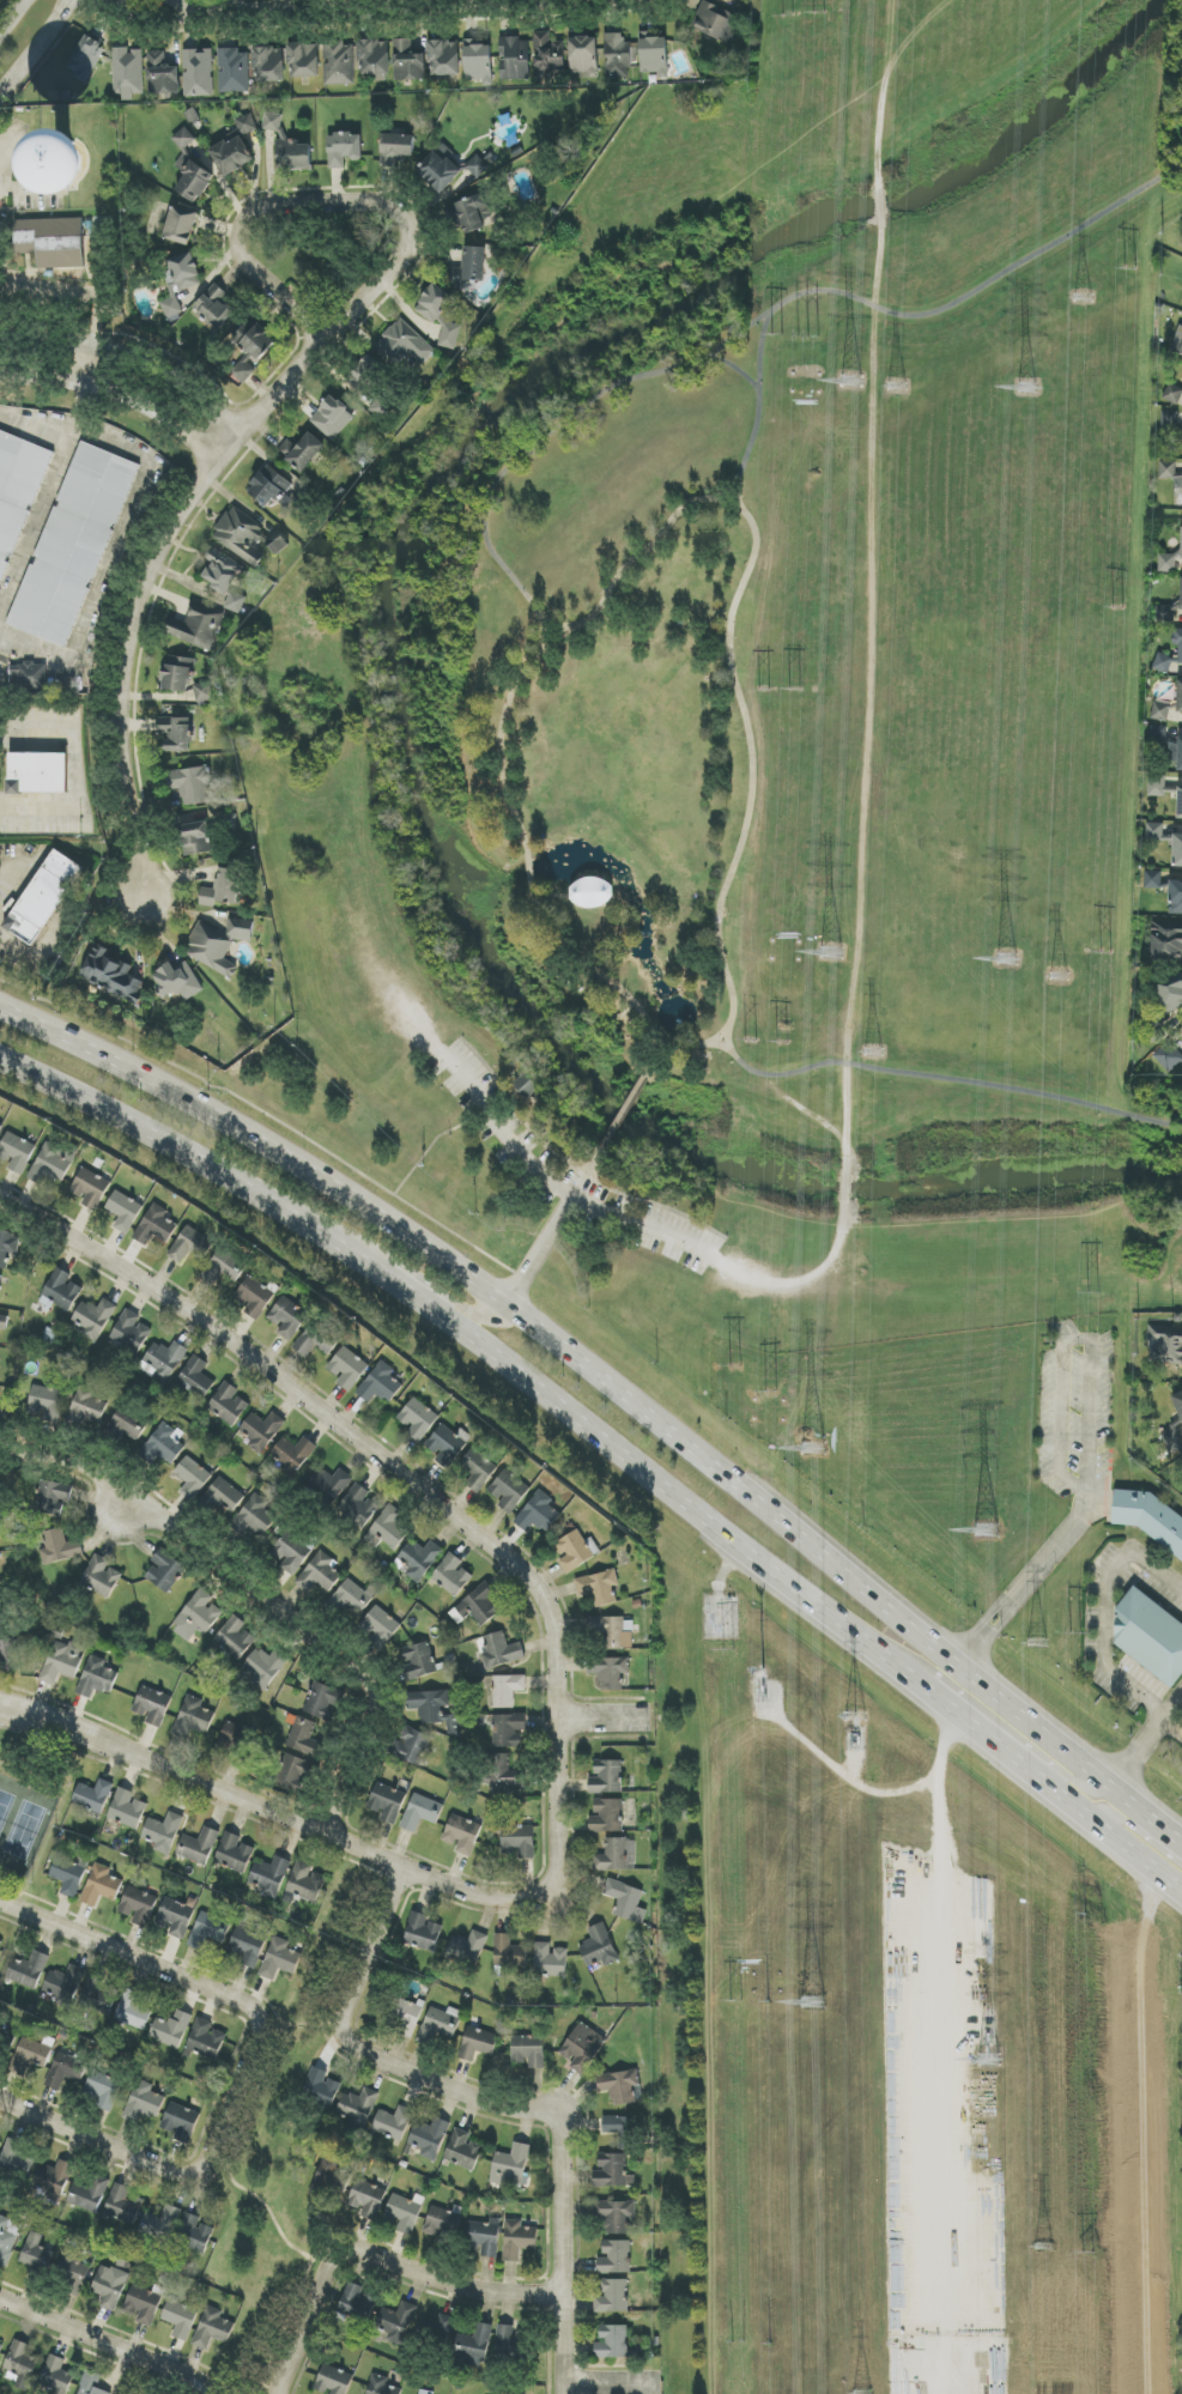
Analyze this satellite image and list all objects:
road: (504, 0)
road: (213, 6)
road: (326, 8)
power tower: (819, 11)
power tower: (789, 13)
road: (16, 19)
building: (716, 22)
road: (43, 55)
building: (619, 55)
building: (654, 55)
building: (548, 56)
building: (444, 57)
building: (583, 57)
building: (86, 59)
building: (375, 59)
building: (514, 59)
building: (304, 60)
building: (407, 61)
building: (478, 61)
building: (339, 62)
building: (268, 65)
building: (234, 71)
building: (127, 73)
building: (198, 73)
building: (162, 74)
building: (273, 123)
building: (344, 149)
building: (396, 149)
park: (808, 150)
building: (232, 156)
building: (293, 156)
building: (477, 166)
building: (192, 170)
building: (440, 171)
road: (11, 189)
road: (246, 208)
building: (474, 213)
building: (0, 223)
building: (181, 225)
building: (50, 242)
building: (469, 267)
power tower: (1131, 271)
building: (181, 281)
road: (87, 298)
power tower: (1081, 298)
building: (214, 308)
building: (441, 314)
road: (751, 322)
power tower: (808, 334)
power tower: (776, 337)
building: (405, 344)
building: (1178, 345)
building: (250, 353)
road: (737, 372)
building: (364, 375)
road: (122, 377)
power tower: (851, 383)
power tower: (897, 389)
power tower: (1028, 389)
building: (1174, 394)
building: (332, 418)
building: (1169, 419)
building: (302, 451)
building: (1168, 469)
road: (47, 484)
building: (271, 487)
building: (17, 491)
road: (162, 515)
building: (240, 535)
building: (278, 544)
building: (73, 545)
building: (1181, 546)
road: (643, 552)
road: (110, 553)
building: (1169, 562)
building: (224, 577)
building: (1181, 595)
power tower: (1117, 612)
building: (1164, 613)
building: (199, 626)
road: (569, 628)
building: (1180, 650)
road: (729, 673)
building: (178, 674)
building: (28, 675)
power tower: (795, 686)
power tower: (765, 689)
building: (204, 692)
building: (1180, 696)
building: (1162, 711)
building: (177, 733)
building: (1158, 734)
road: (499, 741)
building: (1180, 754)
building: (38, 772)
road: (78, 774)
park: (756, 781)
building: (194, 784)
building: (1180, 804)
building: (1154, 830)
building: (196, 838)
building: (1177, 850)
road: (528, 872)
building: (1153, 880)
building: (223, 889)
building: (592, 892)
building: (44, 897)
building: (1175, 897)
building: (1166, 939)
building: (220, 944)
power tower: (1105, 952)
power tower: (831, 953)
power tower: (1007, 959)
building: (111, 975)
power tower: (1059, 975)
building: (177, 981)
building: (1170, 993)
building: (1153, 1028)
power tower: (748, 1041)
power tower: (783, 1042)
road: (728, 1044)
power tower: (873, 1054)
building: (1168, 1056)
road: (653, 1060)
road: (818, 1065)
building: (526, 1086)
road: (620, 1114)
road: (843, 1116)
building: (0, 1125)
building: (16, 1152)
road: (192, 1158)
building: (50, 1165)
road: (586, 1170)
road: (562, 1183)
building: (91, 1189)
road: (842, 1189)
building: (123, 1212)
building: (156, 1225)
building: (192, 1246)
building: (7, 1247)
road: (538, 1247)
building: (223, 1268)
road: (395, 1280)
building: (0, 1283)
road: (798, 1283)
building: (61, 1290)
power tower: (1095, 1292)
building: (254, 1296)
road: (460, 1307)
building: (93, 1317)
building: (287, 1317)
building: (4, 1322)
building: (131, 1332)
building: (314, 1343)
building: (1165, 1345)
building: (163, 1360)
building: (347, 1368)
power tower: (735, 1368)
building: (195, 1377)
building: (381, 1383)
road: (613, 1389)
power tower: (771, 1390)
building: (46, 1402)
building: (1177, 1402)
building: (228, 1404)
building: (87, 1407)
building: (418, 1419)
building: (127, 1424)
building: (261, 1430)
road: (1092, 1430)
building: (1171, 1440)
building: (448, 1444)
building: (165, 1446)
power tower: (813, 1449)
building: (292, 1455)
building: (483, 1461)
building: (474, 1474)
building: (192, 1478)
road: (405, 1478)
building: (334, 1485)
building: (509, 1491)
road: (666, 1491)
building: (54, 1495)
building: (224, 1497)
building: (359, 1502)
building: (538, 1514)
building: (254, 1517)
building: (1147, 1519)
building: (387, 1529)
power tower: (986, 1532)
building: (59, 1547)
building: (575, 1551)
building: (419, 1559)
building: (165, 1571)
building: (320, 1574)
building: (451, 1575)
building: (102, 1577)
building: (599, 1587)
road: (265, 1596)
building: (352, 1599)
building: (478, 1606)
road: (1107, 1612)
building: (198, 1617)
building: (1, 1620)
building: (380, 1626)
building: (612, 1632)
power tower: (1080, 1632)
building: (1150, 1636)
building: (501, 1650)
power tower: (728, 1650)
building: (8, 1656)
building: (61, 1661)
building: (418, 1661)
building: (265, 1667)
power tower: (763, 1671)
building: (610, 1672)
building: (97, 1677)
building: (507, 1690)
building: (323, 1701)
building: (152, 1705)
road: (1174, 1705)
building: (435, 1709)
building: (194, 1717)
road: (601, 1720)
road: (963, 1721)
power tower: (855, 1722)
road: (1174, 1726)
building: (509, 1729)
power tower: (1028, 1733)
building: (303, 1738)
building: (234, 1740)
building: (412, 1746)
road: (1136, 1752)
building: (296, 1774)
building: (504, 1774)
road: (1057, 1774)
building: (606, 1777)
road: (875, 1792)
building: (93, 1796)
building: (387, 1802)
building: (127, 1808)
building: (422, 1812)
road: (275, 1814)
building: (607, 1816)
road: (1093, 1822)
road: (1131, 1825)
building: (163, 1832)
building: (462, 1834)
building: (519, 1841)
road: (1180, 1843)
building: (199, 1847)
building: (234, 1853)
building: (617, 1855)
building: (271, 1875)
building: (304, 1884)
building: (102, 1885)
building: (626, 1901)
building: (138, 1907)
power tower: (1084, 1916)
building: (174, 1917)
building: (208, 1931)
building: (423, 1933)
building: (0, 1944)
building: (247, 1946)
building: (599, 1947)
building: (467, 1948)
building: (509, 1952)
road: (128, 1954)
building: (279, 1959)
building: (550, 1960)
building: (28, 1969)
building: (63, 1984)
building: (98, 1995)
power tower: (737, 2001)
power tower: (769, 2004)
power tower: (812, 2005)
road: (836, 2006)
building: (133, 2011)
building: (404, 2016)
building: (440, 2024)
road: (295, 2028)
building: (171, 2030)
building: (206, 2040)
building: (477, 2043)
building: (582, 2048)
building: (527, 2050)
building: (31, 2055)
power tower: (989, 2061)
building: (66, 2071)
road: (941, 2085)
building: (619, 2086)
building: (321, 2087)
building: (102, 2090)
building: (144, 2103)
road: (492, 2103)
building: (358, 2107)
building: (181, 2122)
building: (393, 2123)
building: (430, 2135)
building: (463, 2150)
building: (18, 2157)
building: (511, 2166)
road: (178, 2172)
building: (53, 2180)
building: (328, 2182)
building: (89, 2194)
building: (366, 2199)
building: (123, 2205)
building: (404, 2212)
building: (614, 2214)
road: (269, 2218)
building: (443, 2222)
building: (160, 2224)
building: (194, 2234)
building: (7, 2237)
building: (483, 2238)
building: (517, 2240)
power tower: (1044, 2248)
building: (36, 2254)
power tower: (1087, 2256)
building: (616, 2257)
road: (411, 2266)
building: (73, 2275)
building: (109, 2286)
building: (612, 2296)
building: (357, 2303)
building: (143, 2304)
building: (180, 2320)
building: (395, 2323)
building: (213, 2328)
road: (109, 2338)
building: (508, 2341)
building: (475, 2343)
power tower: (740, 2344)
building: (0, 2347)
road: (293, 2362)
building: (20, 2365)
building: (56, 2376)
building: (333, 2381)
building: (91, 2384)
building: (382, 2386)
road: (611, 2387)
building: (425, 2392)

